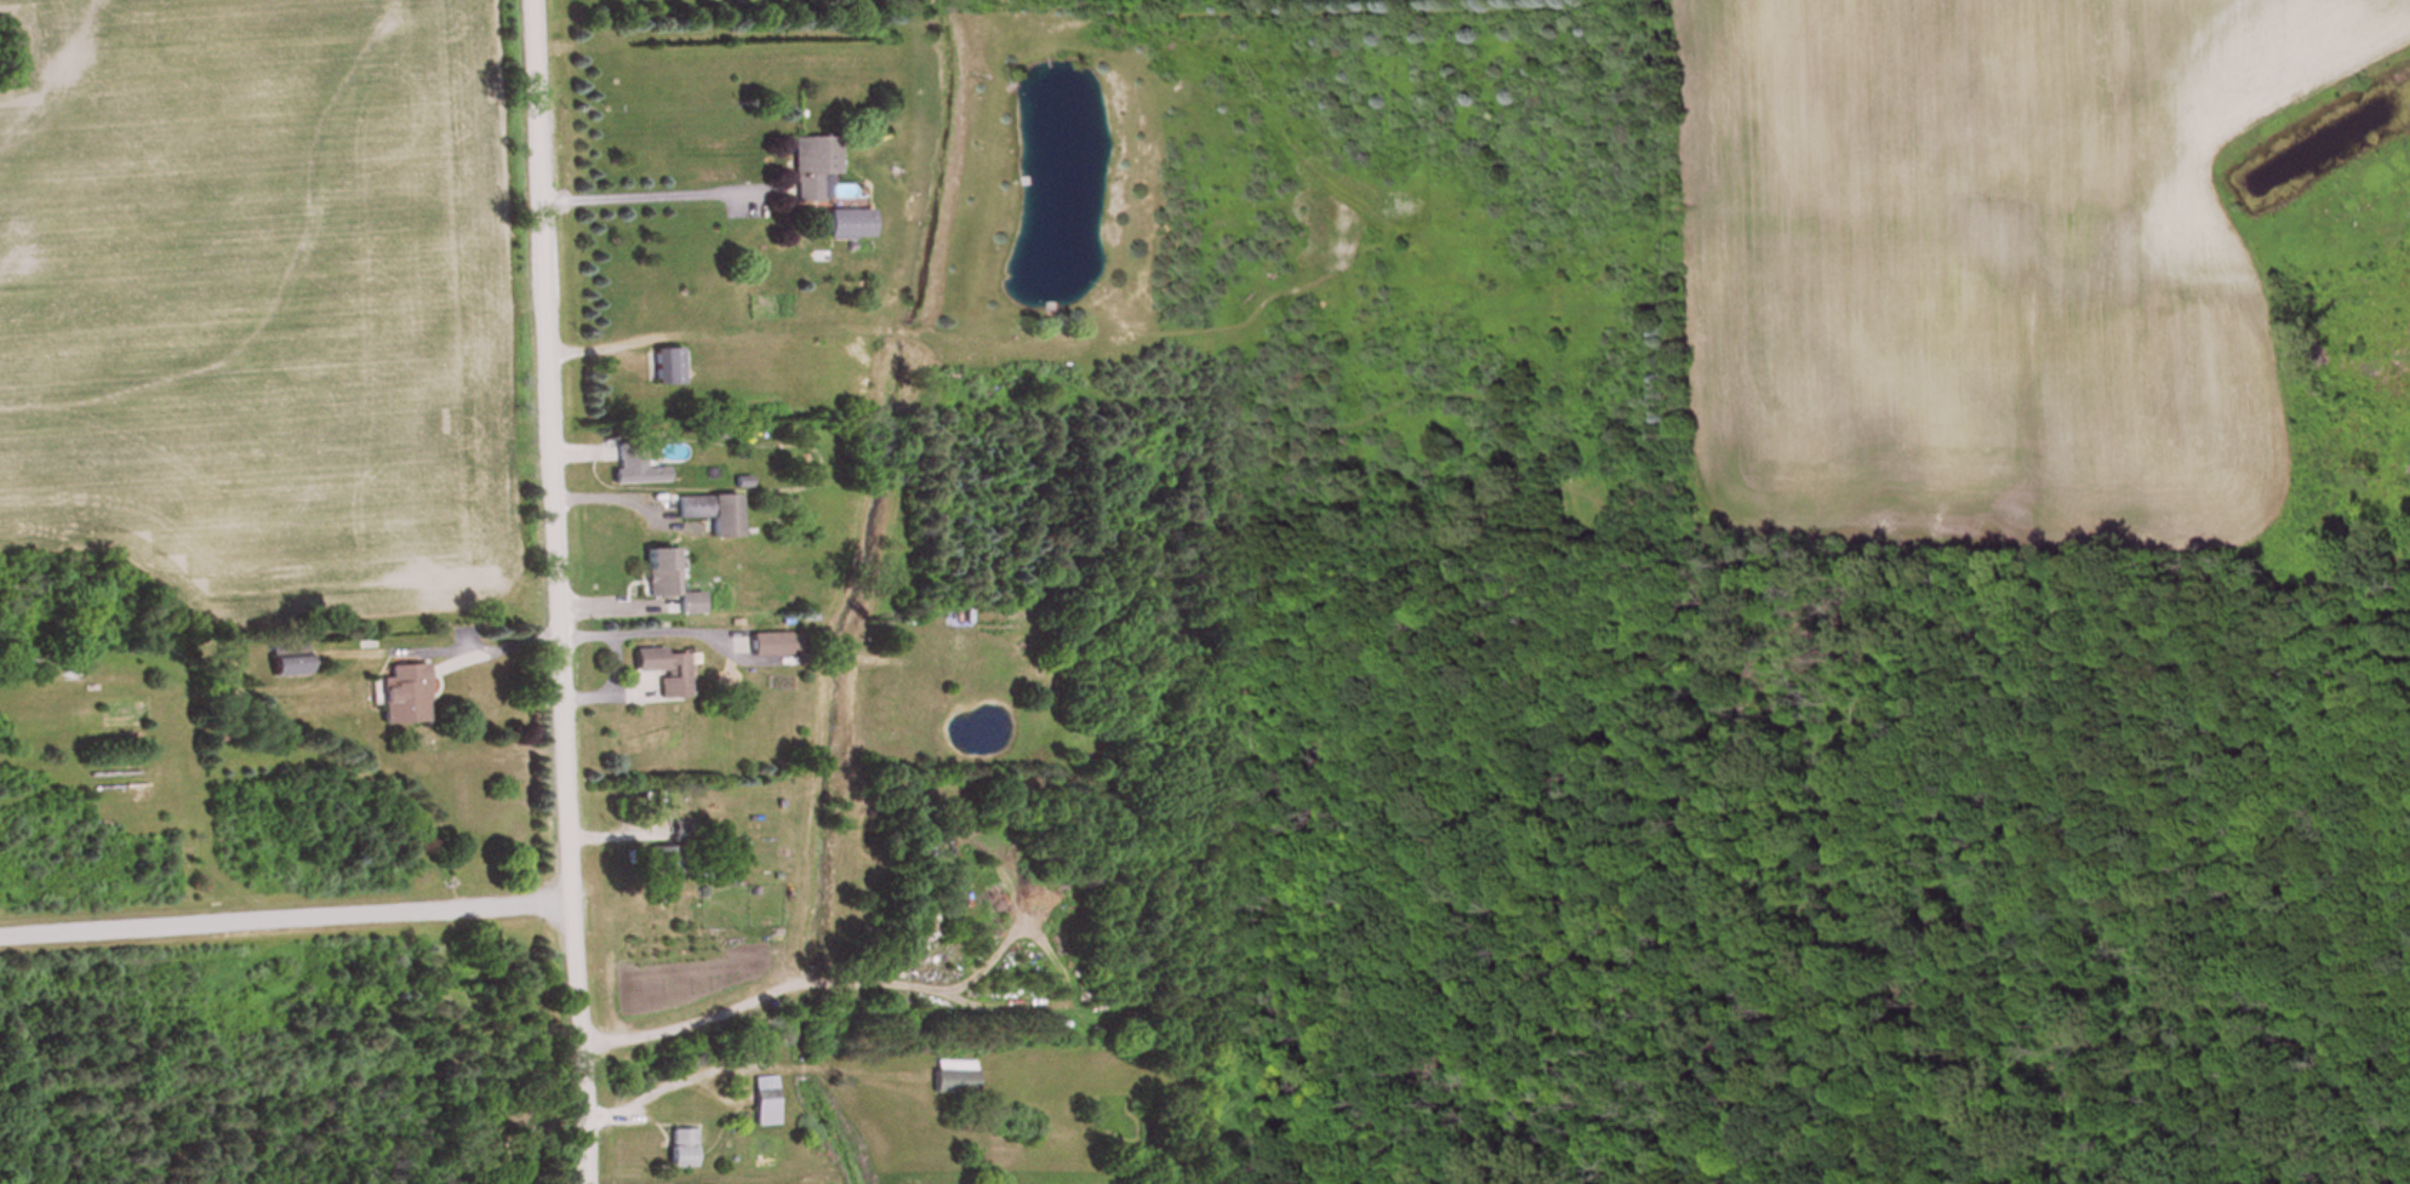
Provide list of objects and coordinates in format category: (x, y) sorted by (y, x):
building: (812, 167)
building: (849, 225)
building: (667, 368)
building: (632, 464)
building: (714, 515)
building: (659, 576)
road: (553, 591)
building: (777, 646)
building: (290, 662)
building: (664, 673)
building: (406, 698)
building: (683, 833)
building: (663, 862)
road: (281, 909)
building: (955, 1079)
building: (765, 1103)
building: (680, 1149)

